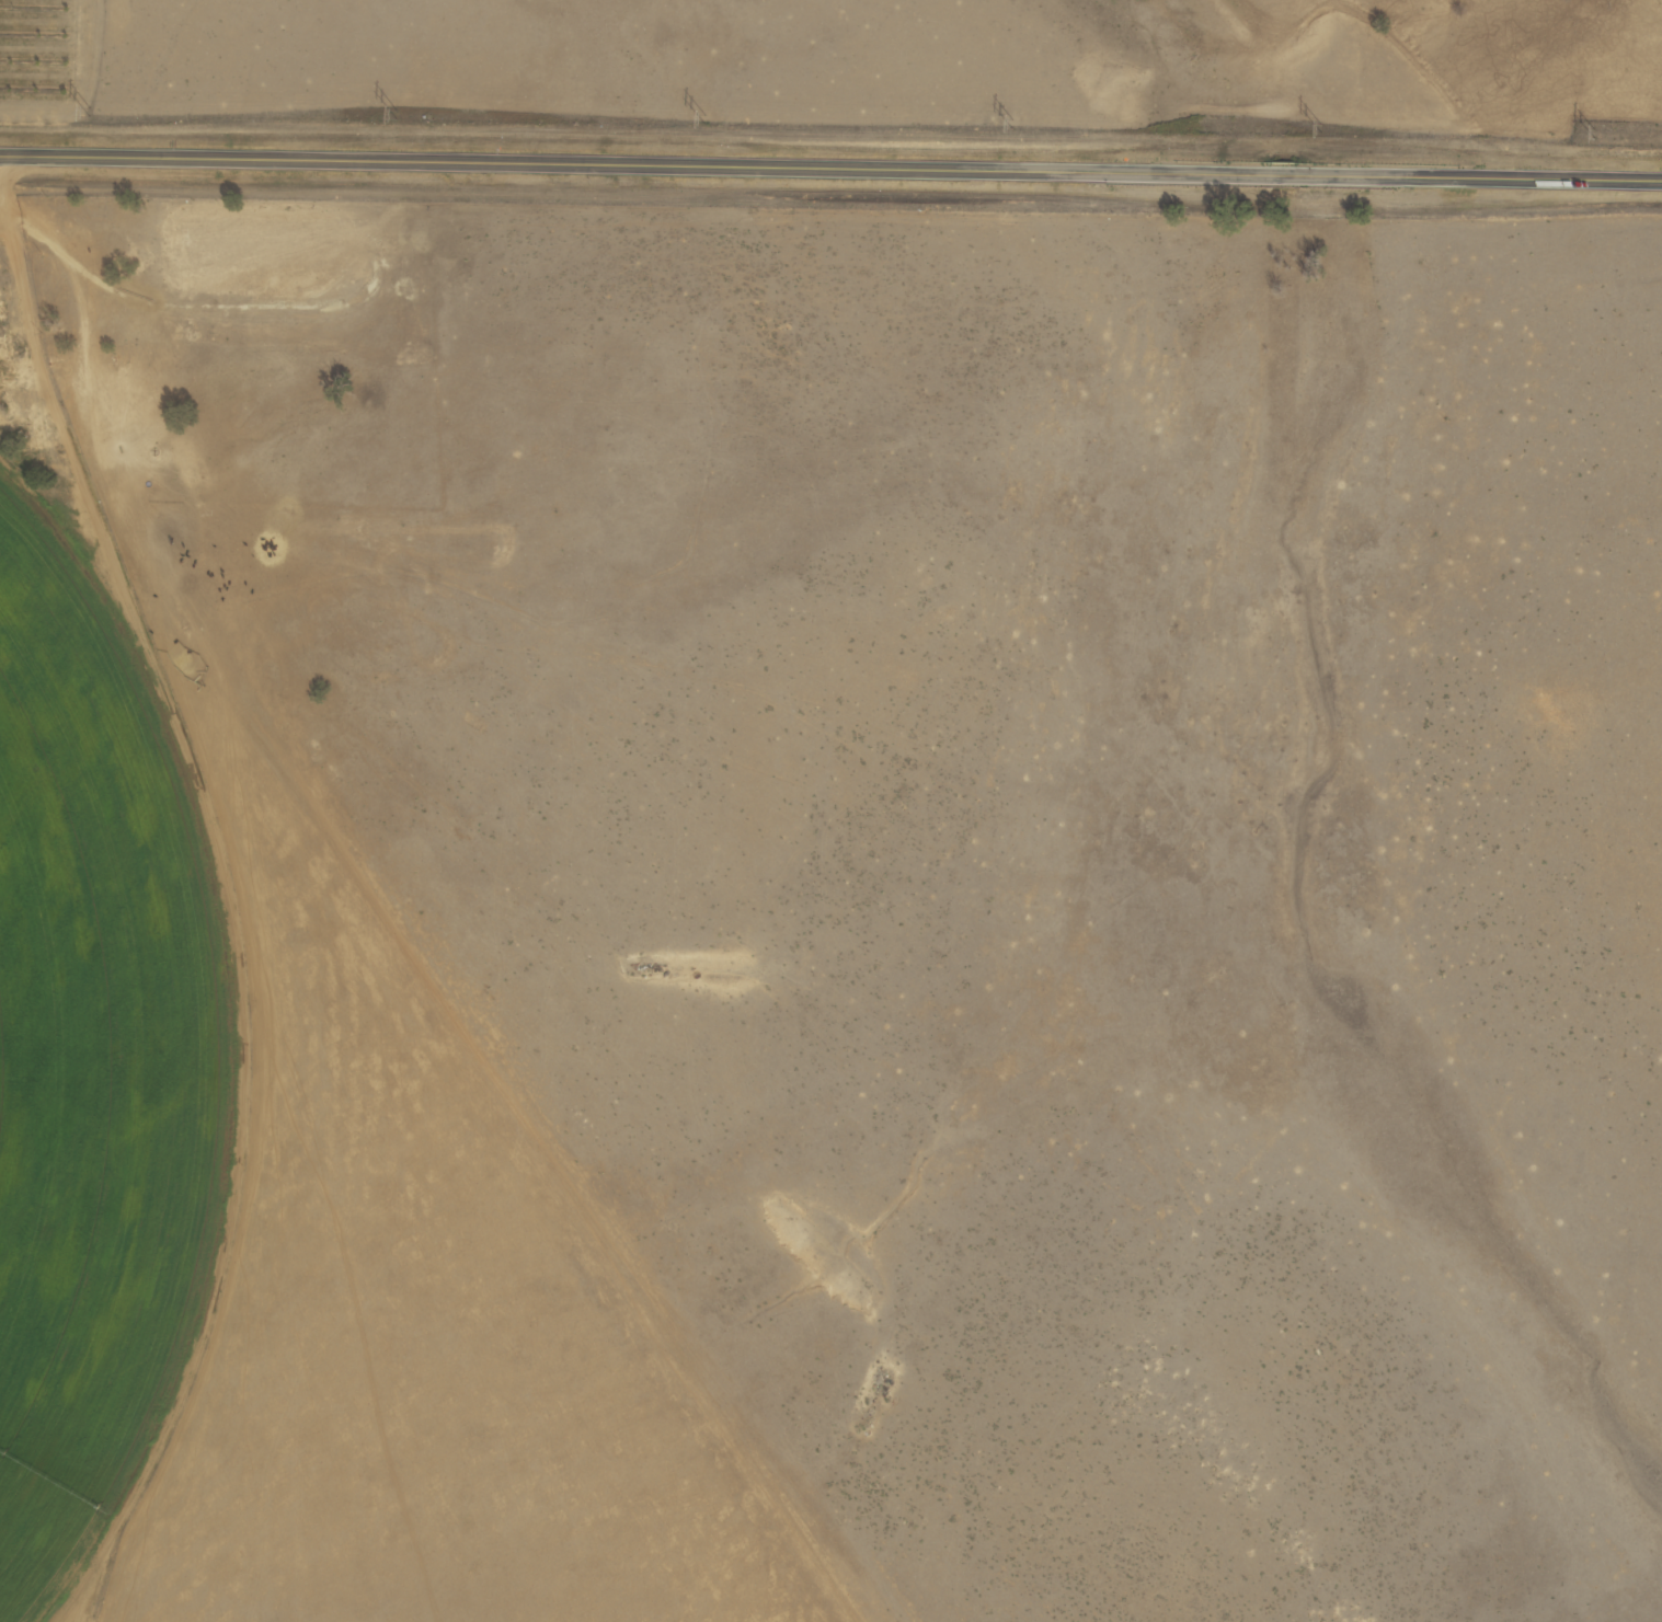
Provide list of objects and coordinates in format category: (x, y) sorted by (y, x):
road: (830, 176)
road: (82, 296)

